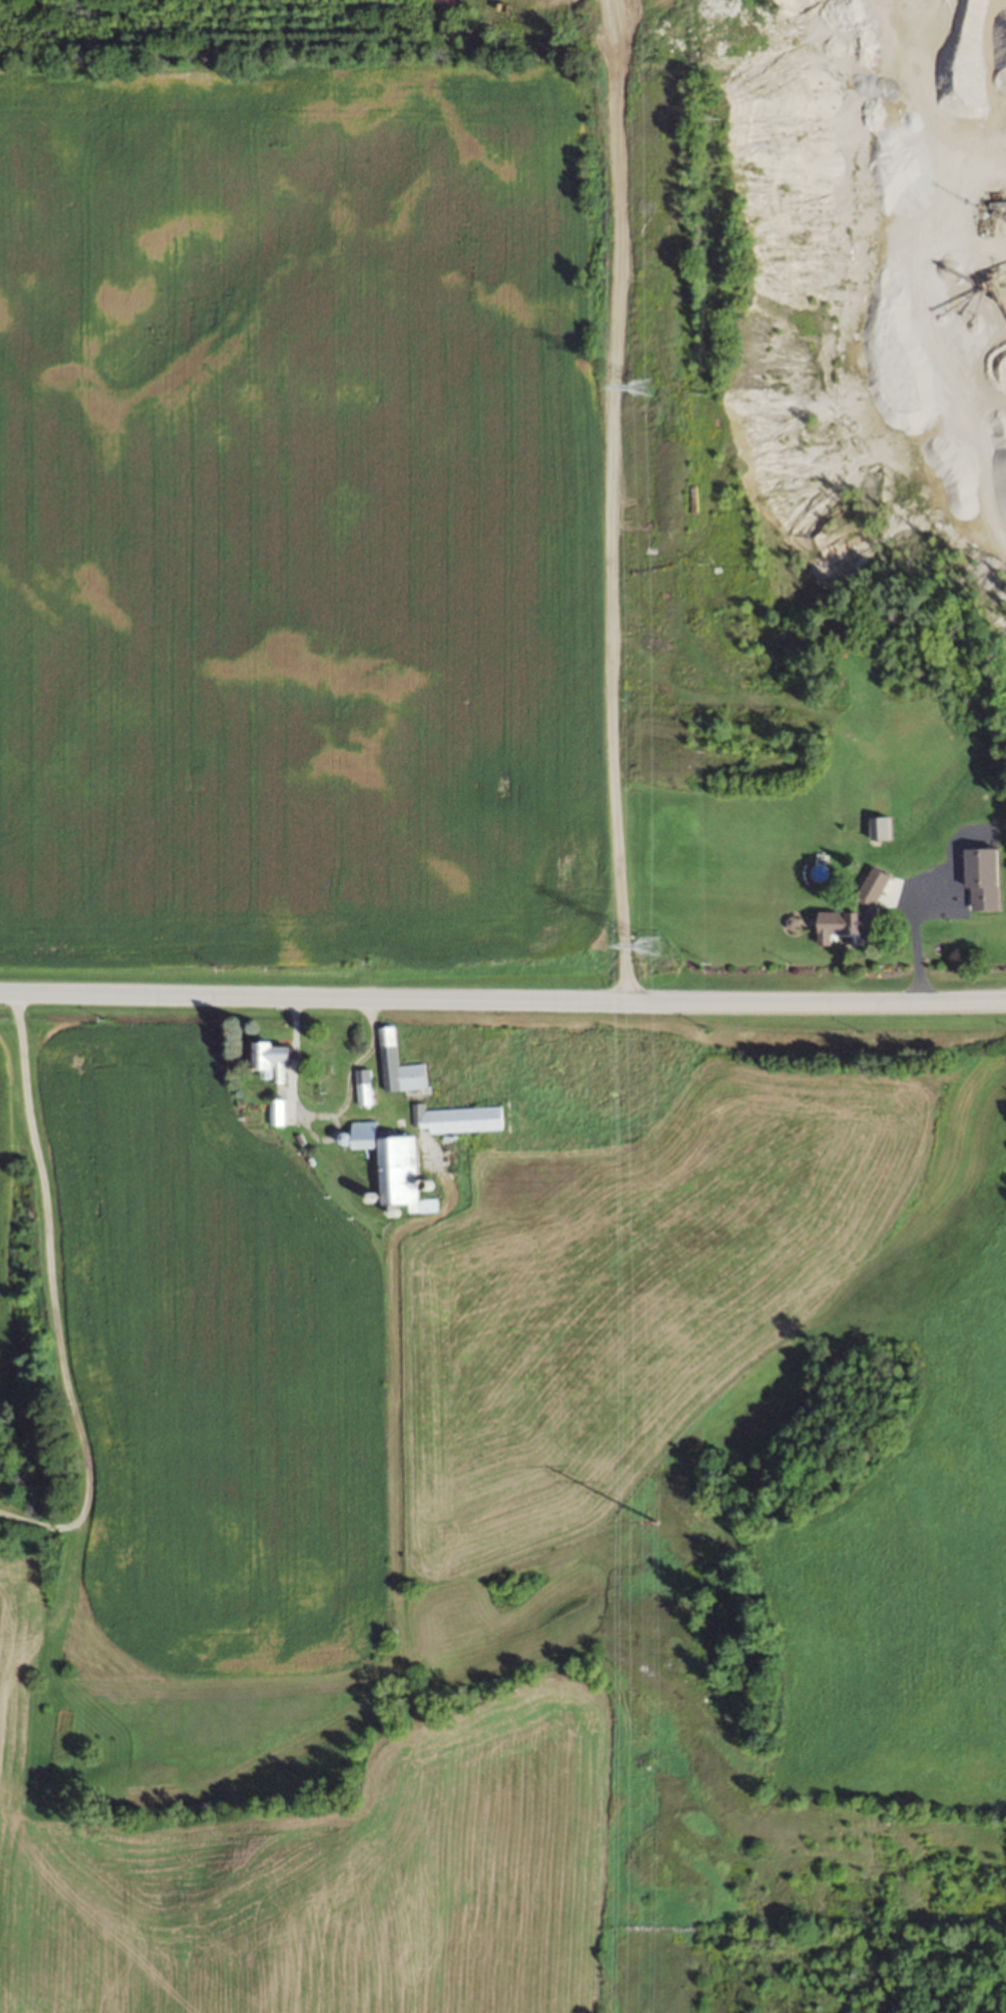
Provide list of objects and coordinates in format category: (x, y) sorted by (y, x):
power tower: (640, 385)
quarry: (836, 390)
building: (877, 829)
building: (981, 879)
building: (847, 919)
power tower: (645, 947)
road: (913, 948)
road: (502, 998)
building: (386, 1044)
building: (268, 1059)
building: (361, 1086)
building: (274, 1111)
road: (318, 1116)
building: (455, 1118)
building: (360, 1134)
building: (398, 1172)
road: (51, 1296)
power tower: (650, 1520)

